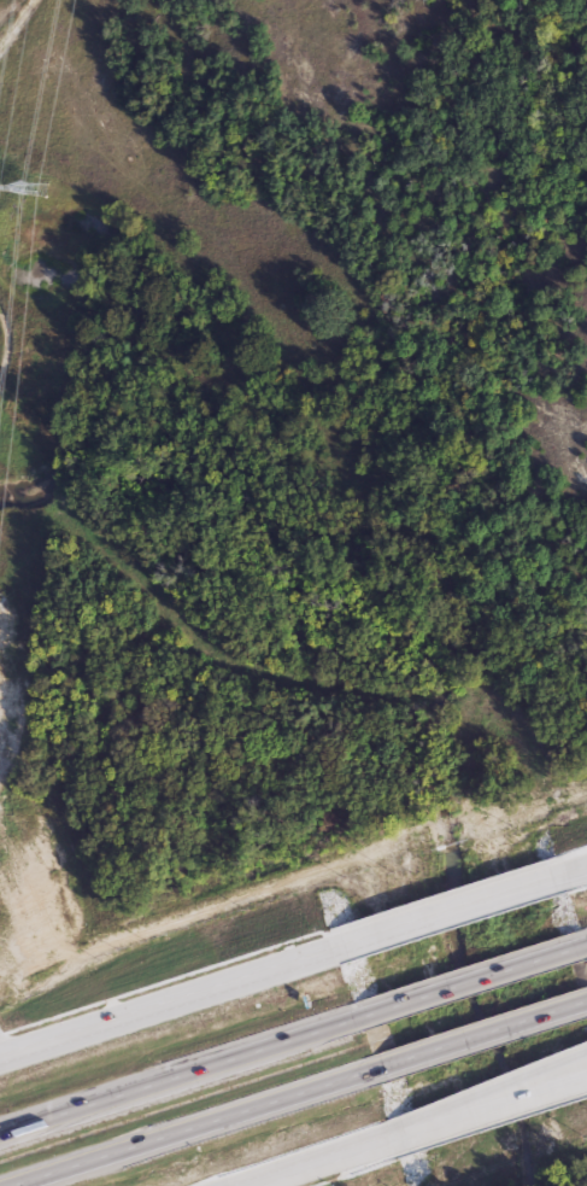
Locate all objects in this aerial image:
power tower: (34, 189)
road: (576, 874)
road: (576, 874)
road: (447, 916)
road: (294, 941)
road: (462, 976)
road: (164, 1007)
road: (471, 1030)
road: (168, 1073)
road: (488, 1098)
road: (488, 1110)
road: (182, 1128)
road: (452, 1138)
road: (322, 1163)

